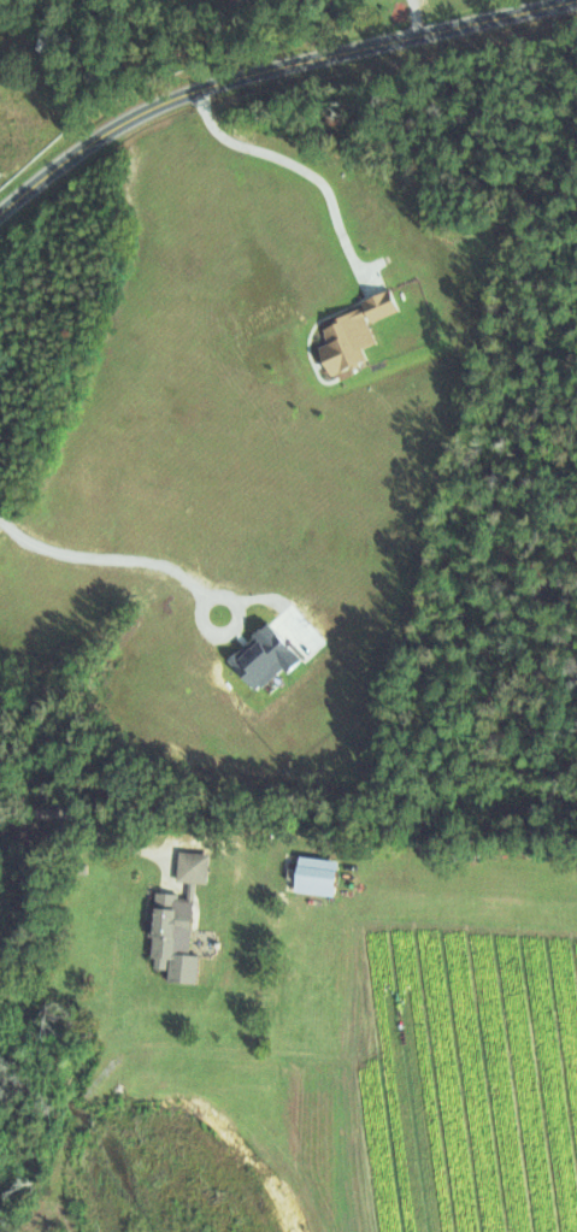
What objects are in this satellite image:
road: (263, 64)
road: (295, 167)
road: (88, 821)
building: (189, 866)
building: (312, 874)
building: (164, 913)

